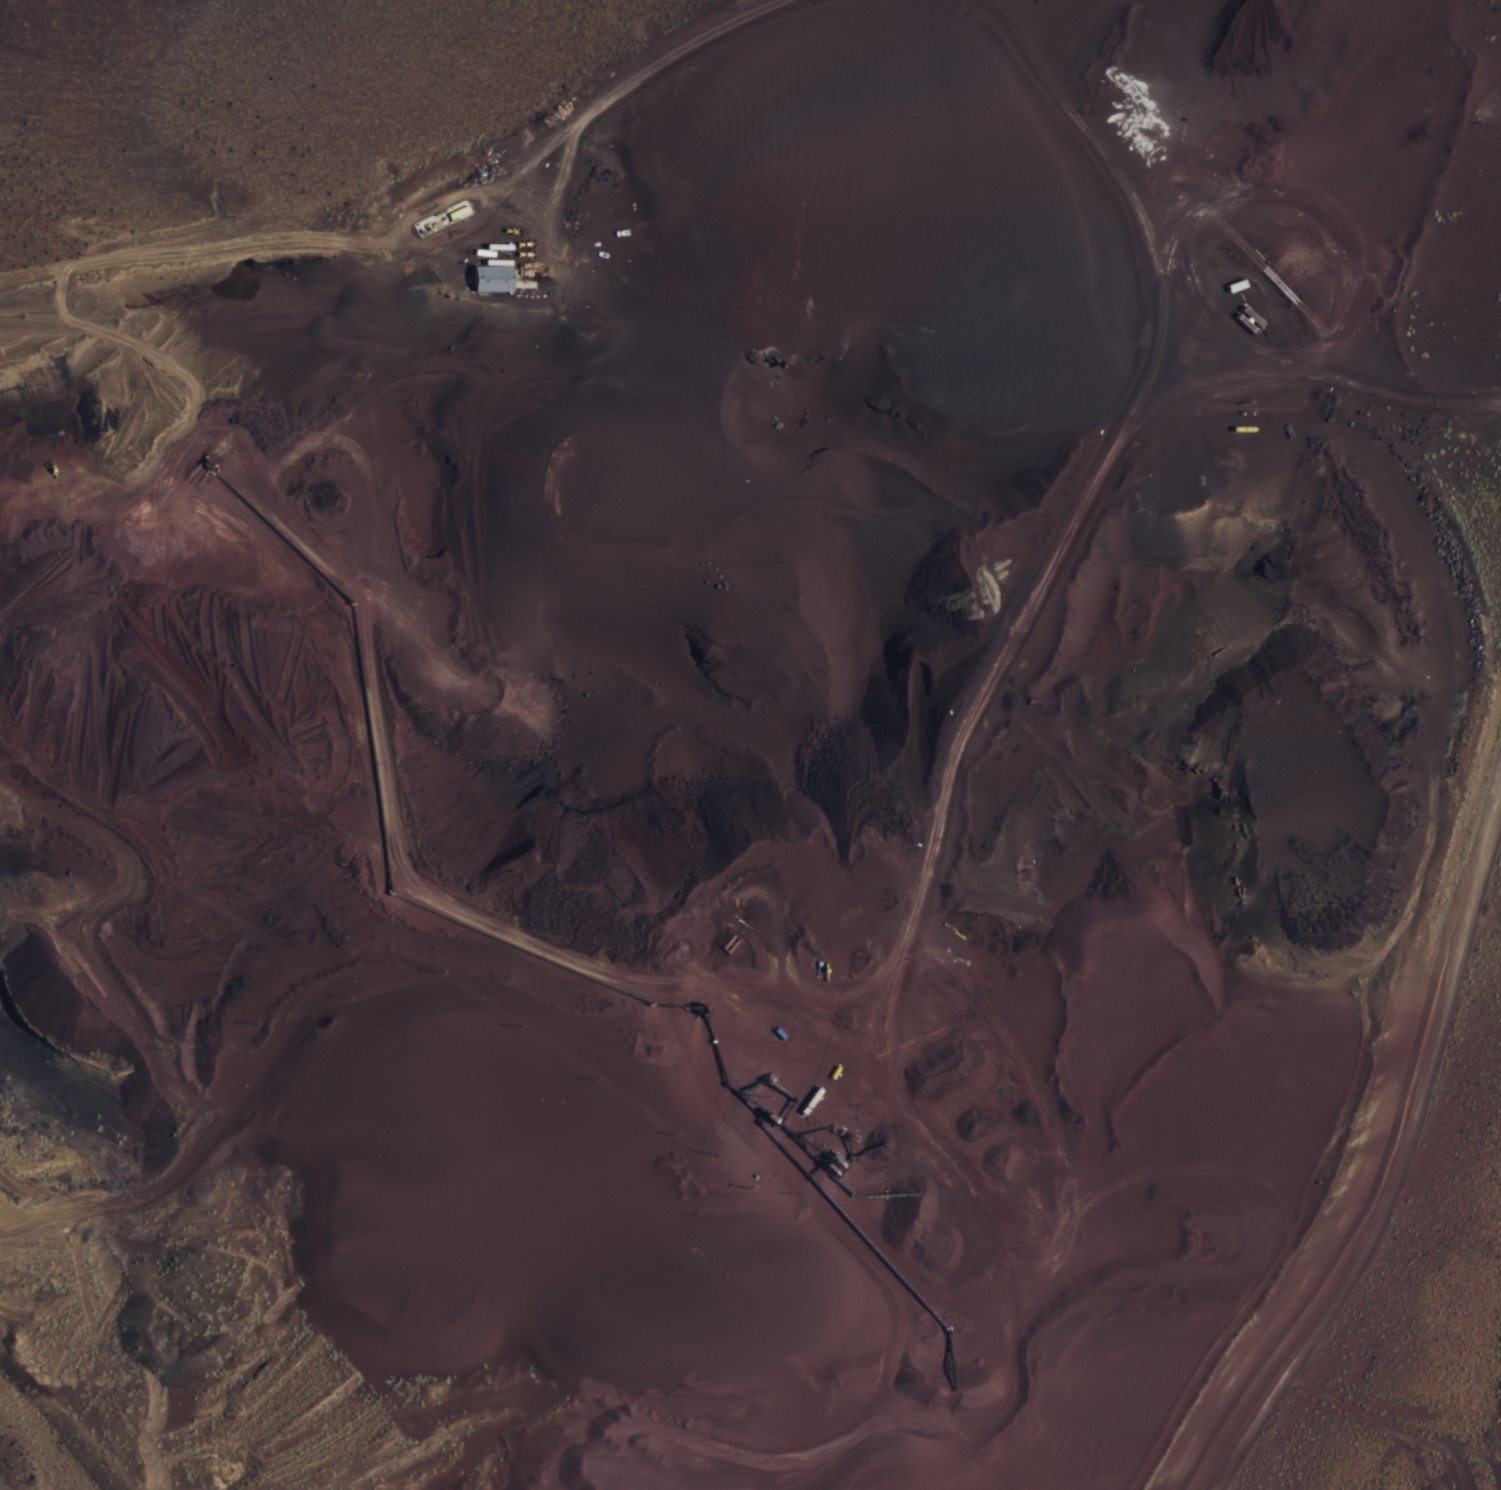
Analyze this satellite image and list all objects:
building: (494, 275)
building: (1357, 449)
road: (1061, 542)
road: (1393, 1153)

